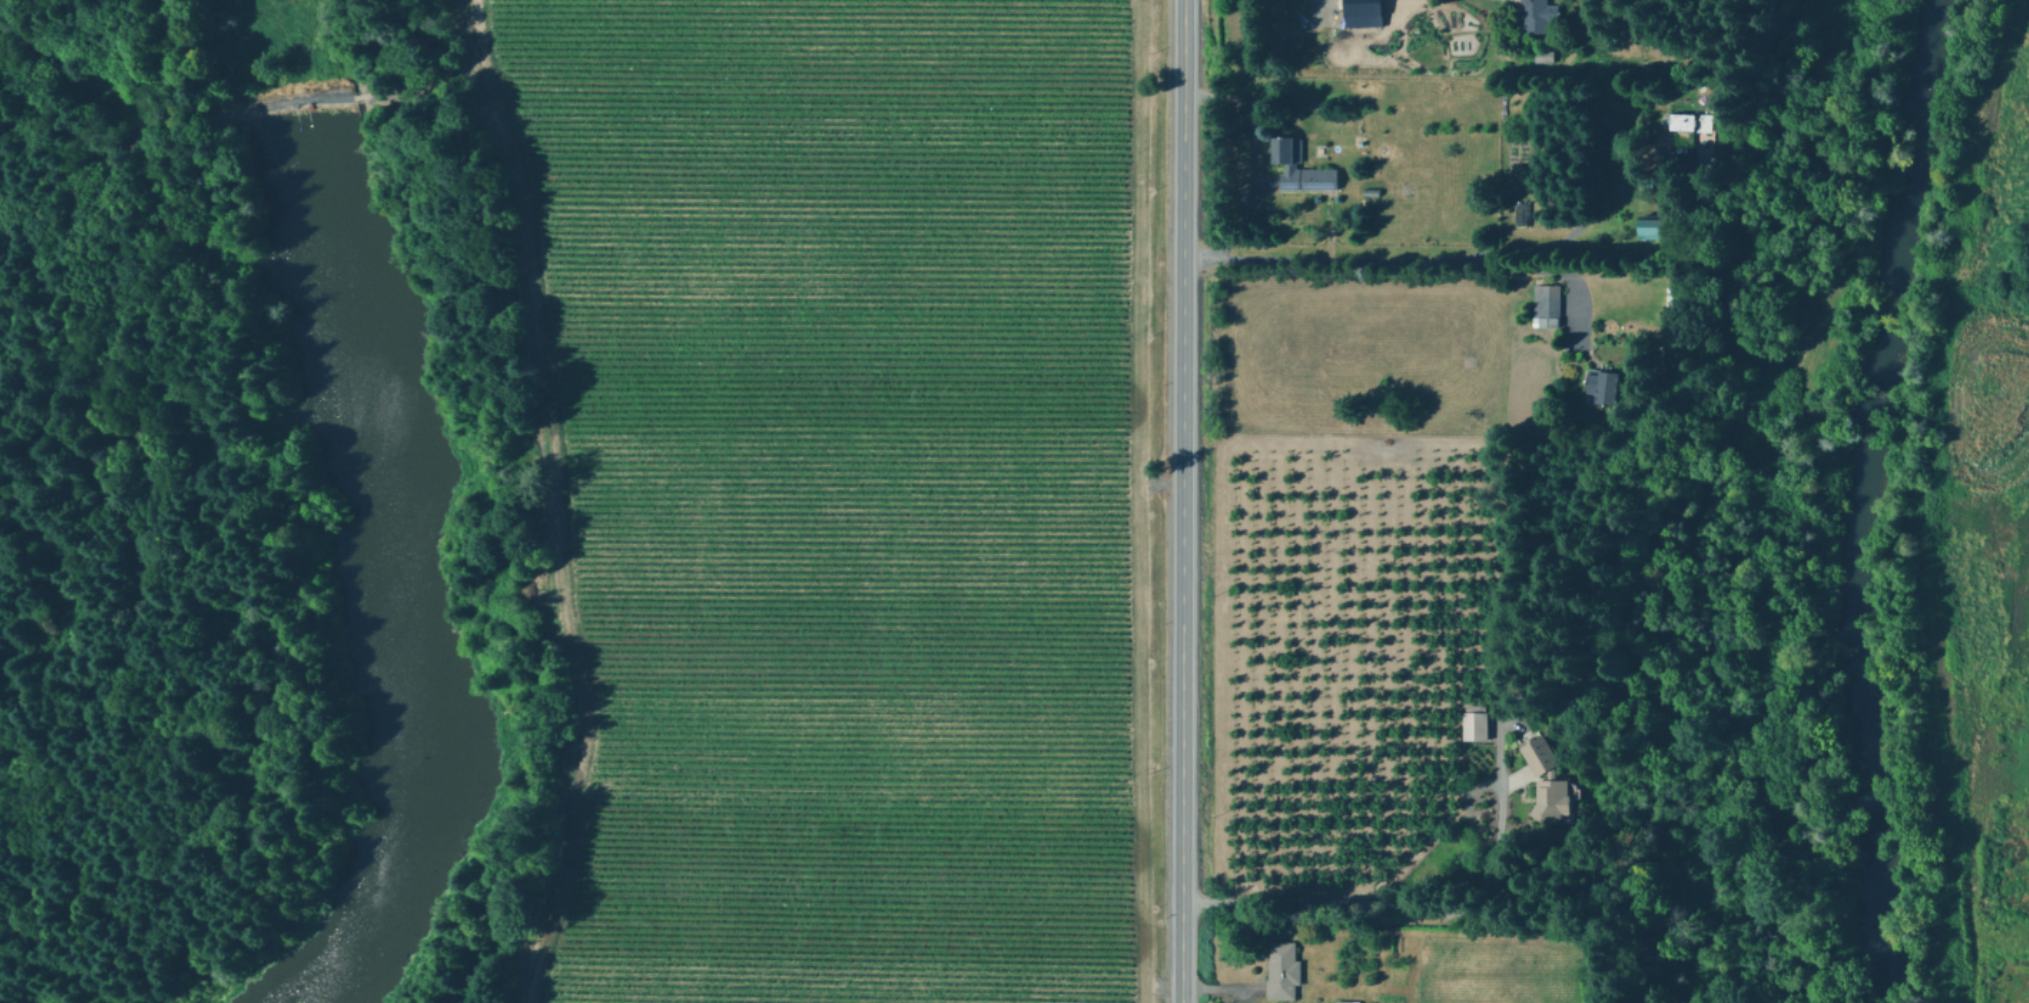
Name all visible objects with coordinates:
building: (1537, 15)
road: (400, 39)
building: (1547, 58)
dam: (298, 105)
building: (1686, 127)
building: (1292, 165)
road: (1254, 168)
building: (1519, 212)
building: (1657, 226)
road: (1384, 260)
building: (1675, 293)
building: (1547, 304)
building: (1606, 386)
crop: (828, 486)
river: (1857, 498)
road: (1182, 501)
building: (1475, 725)
building: (1548, 783)
road: (1411, 886)
building: (1284, 971)
building: (1344, 1001)

